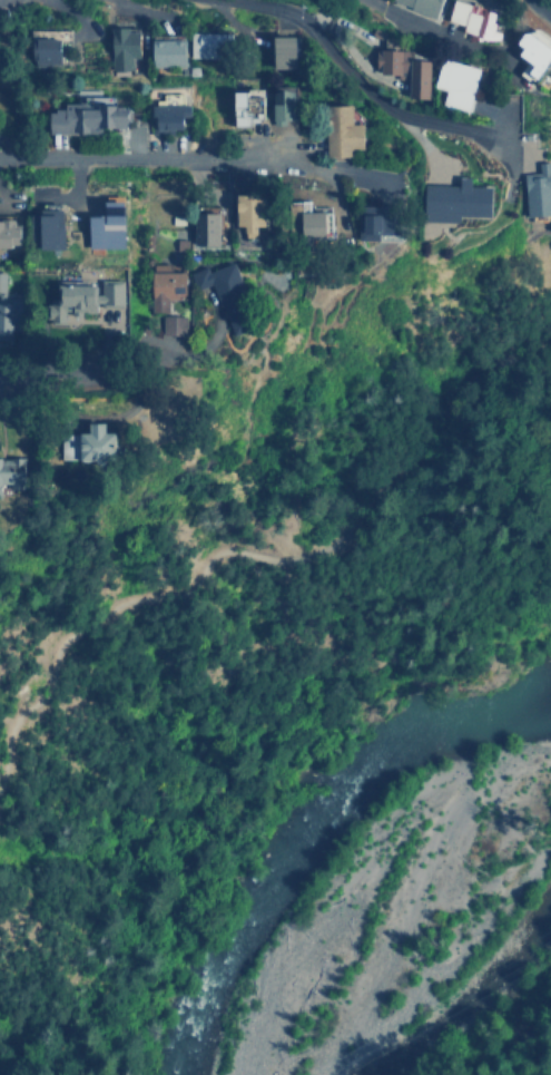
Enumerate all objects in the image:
building: (426, 6)
road: (540, 9)
building: (478, 19)
building: (213, 43)
building: (126, 48)
building: (47, 50)
building: (170, 51)
building: (287, 51)
building: (538, 52)
building: (407, 69)
building: (456, 82)
road: (361, 91)
building: (287, 102)
building: (252, 104)
building: (90, 117)
building: (169, 117)
building: (346, 129)
road: (196, 158)
building: (540, 190)
building: (455, 201)
building: (255, 213)
building: (317, 223)
building: (378, 223)
building: (111, 226)
building: (51, 227)
building: (209, 227)
building: (11, 232)
building: (168, 283)
building: (227, 294)
building: (86, 297)
building: (11, 311)
building: (174, 324)
road: (96, 374)
building: (101, 442)
building: (13, 472)
road: (262, 548)
river: (307, 824)

